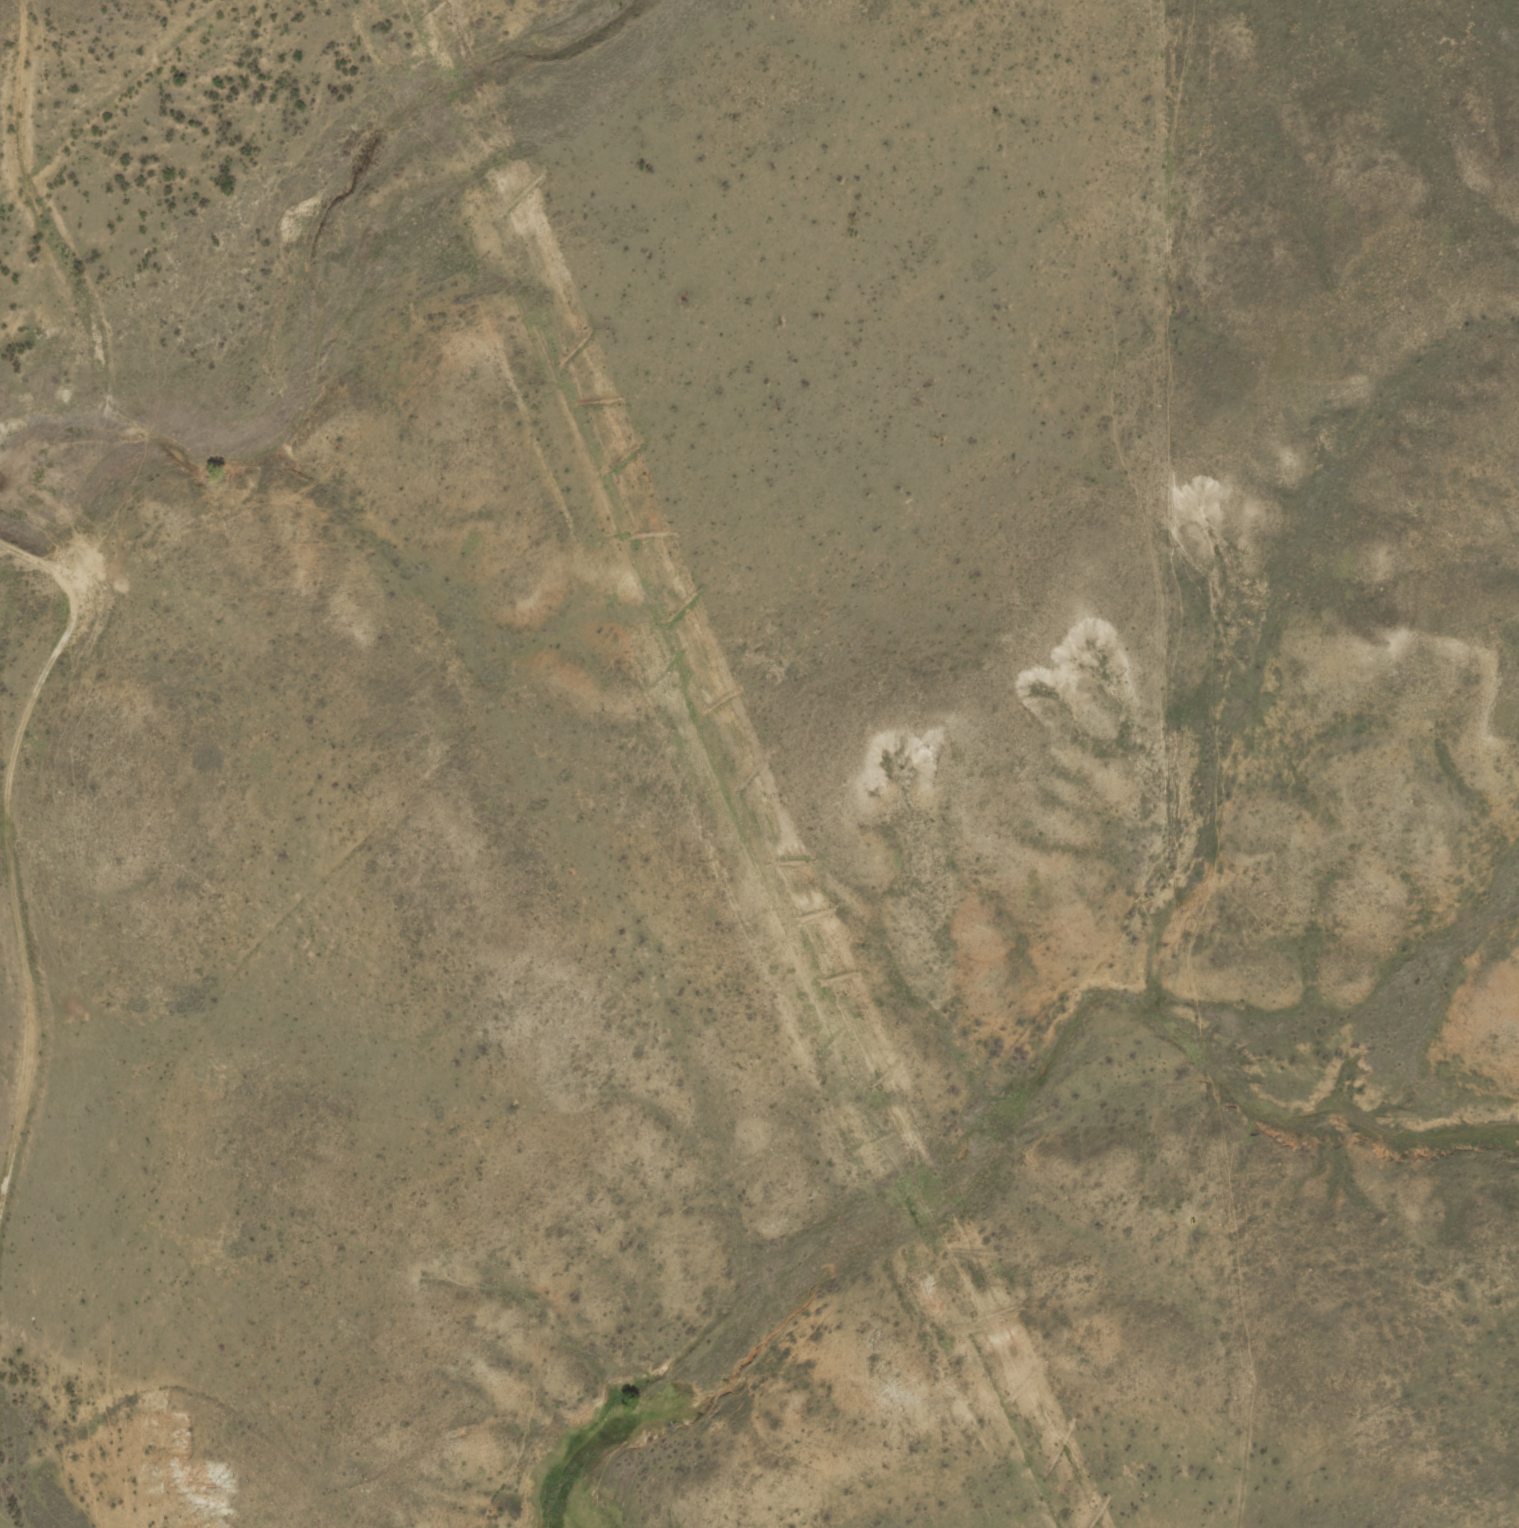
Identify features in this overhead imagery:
road: (52, 380)
road: (674, 485)
road: (316, 1487)

